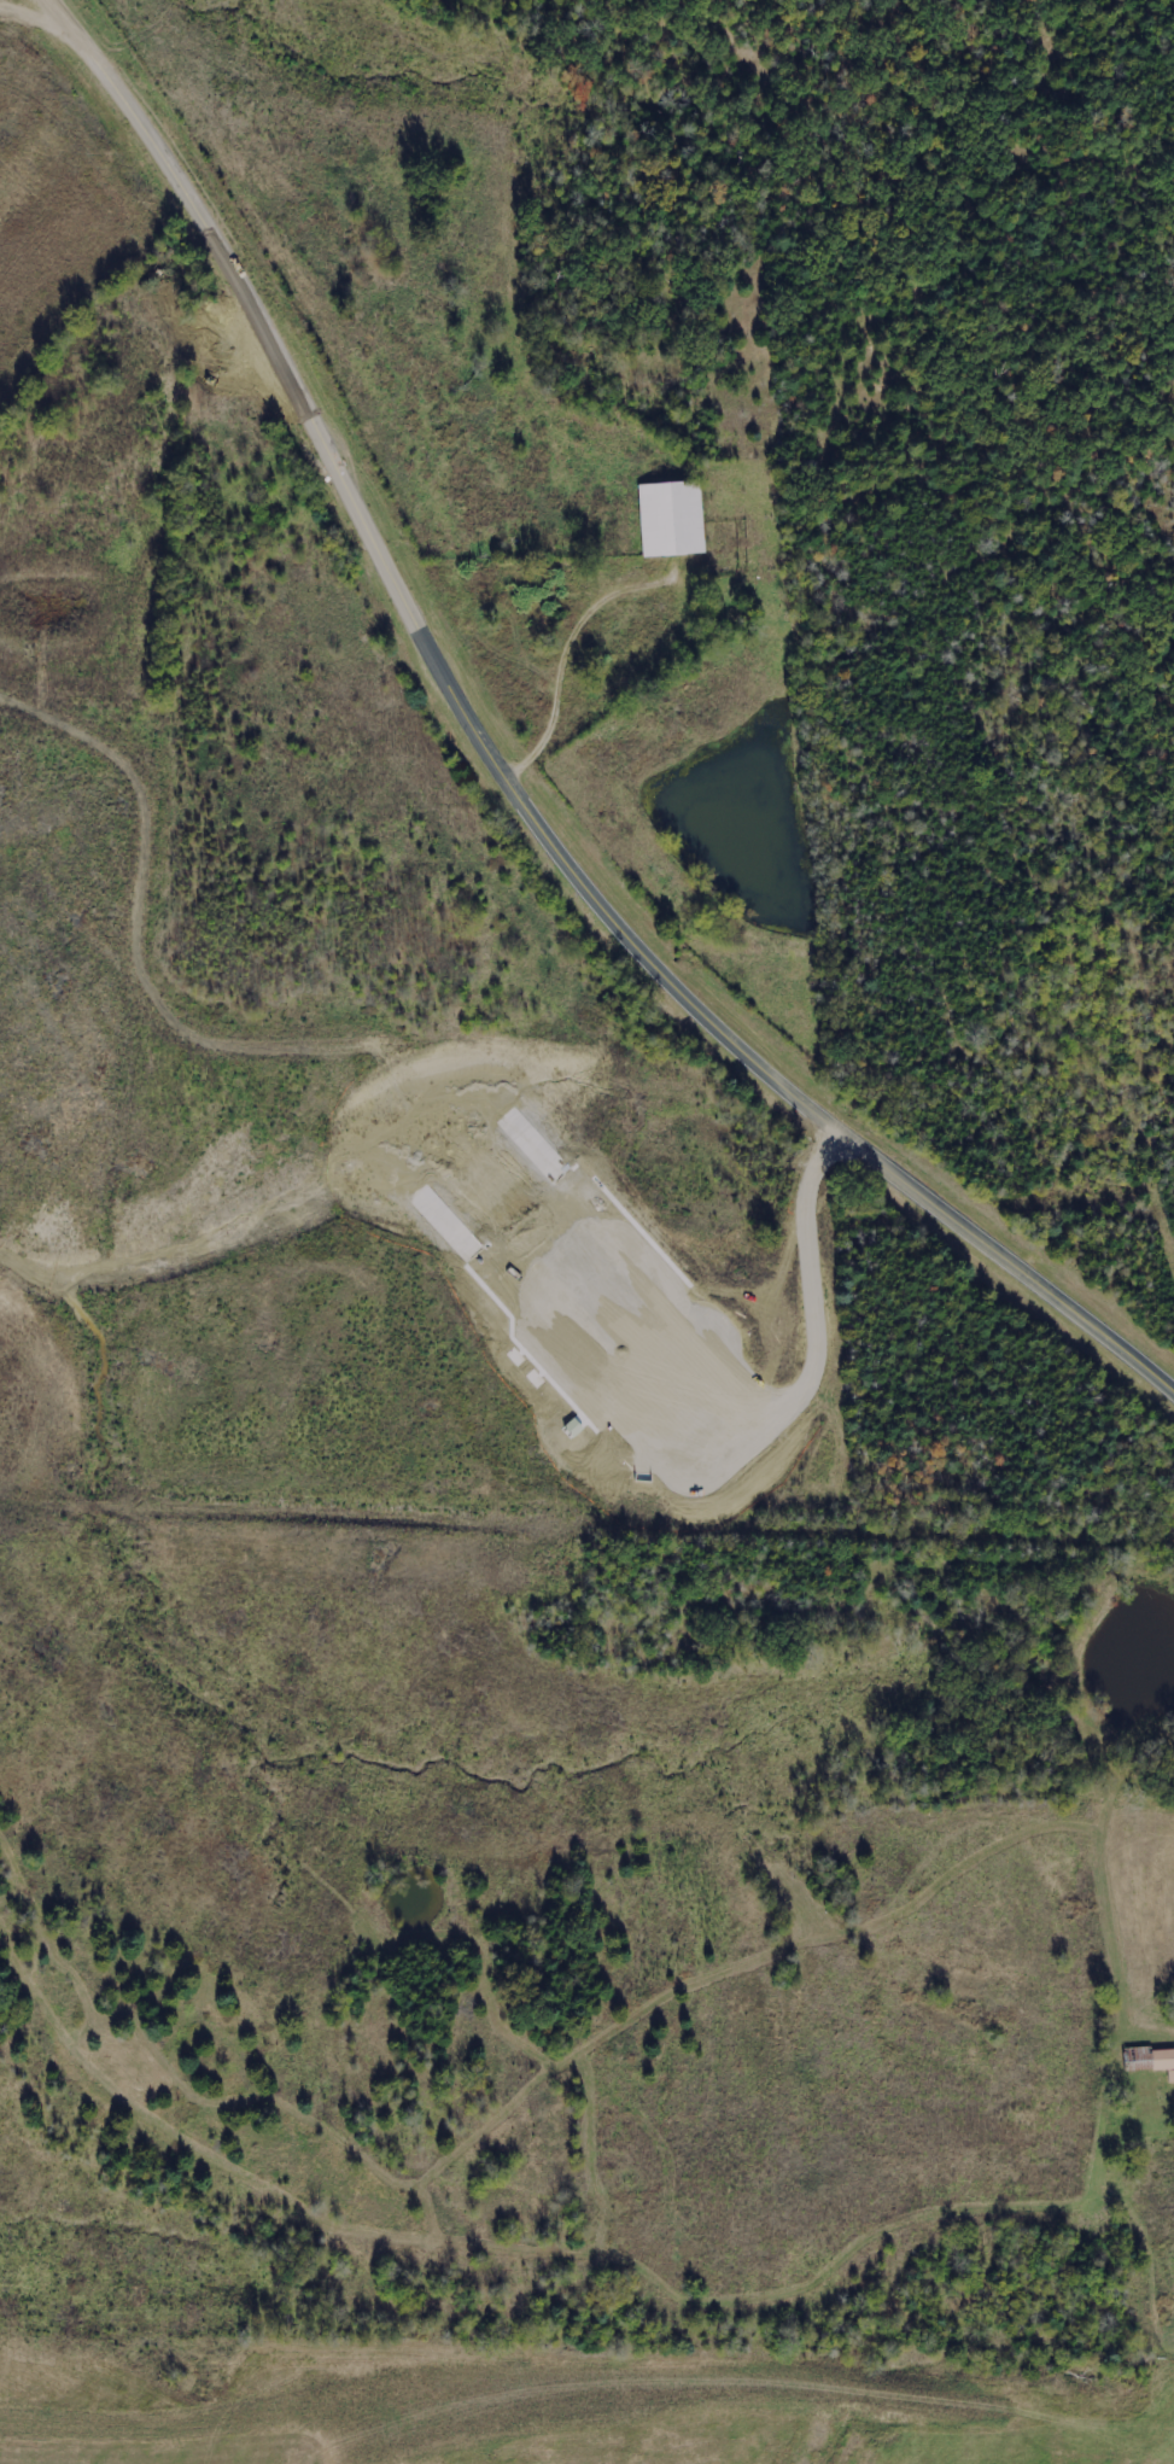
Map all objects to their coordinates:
road: (164, 164)
road: (271, 380)
building: (667, 519)
road: (662, 975)
road: (527, 1226)
road: (639, 1263)
road: (631, 1342)
building: (513, 1356)
building: (532, 1378)
building: (568, 1427)
road: (696, 1484)
building: (1151, 2061)

